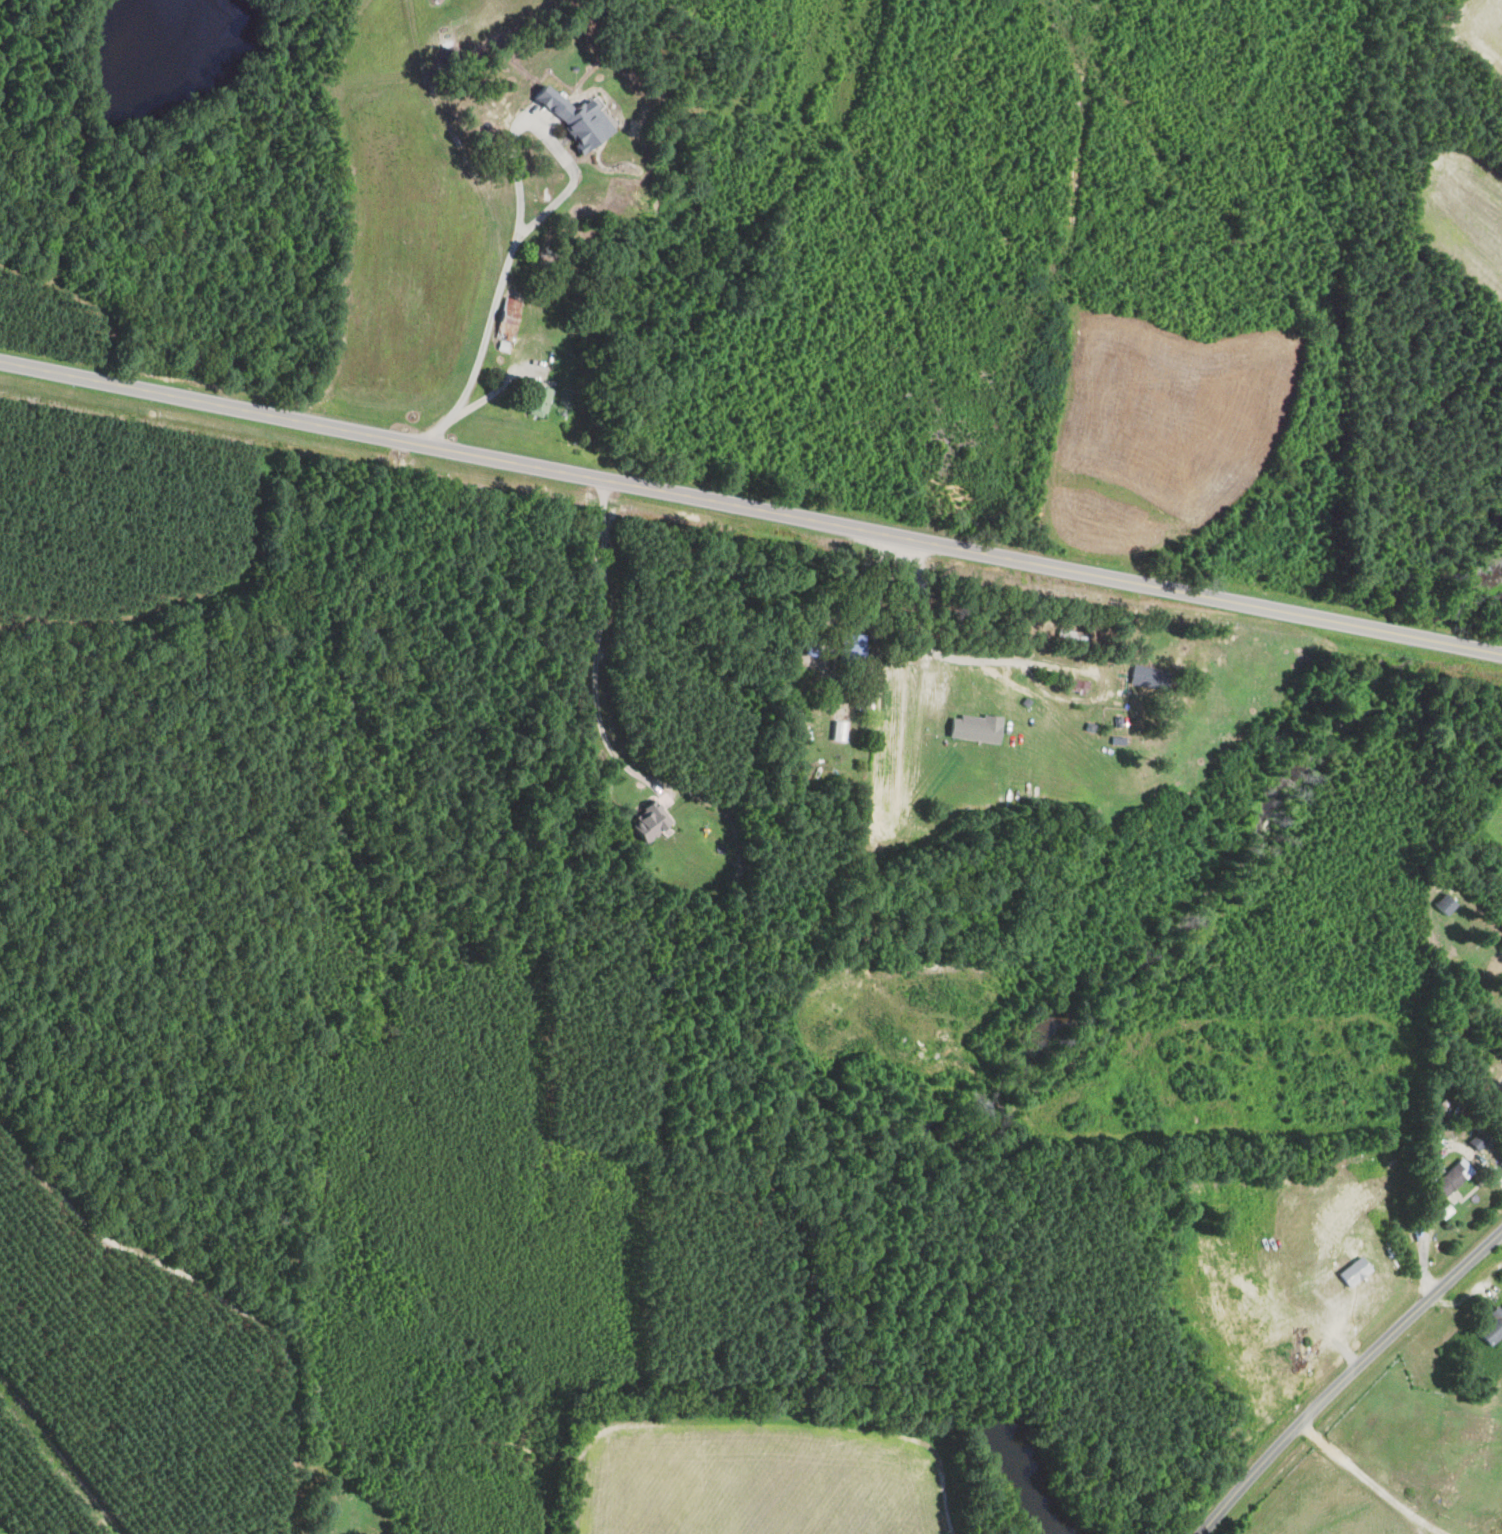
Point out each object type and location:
building: (581, 118)
road: (515, 209)
building: (509, 319)
road: (750, 510)
road: (869, 594)
building: (848, 647)
road: (930, 648)
road: (596, 653)
building: (1141, 677)
building: (972, 729)
building: (835, 731)
building: (646, 822)
building: (1442, 905)
building: (1450, 1180)
road: (1427, 1188)
building: (1442, 1211)
building: (1490, 1327)
road: (1345, 1377)
road: (1362, 1477)

